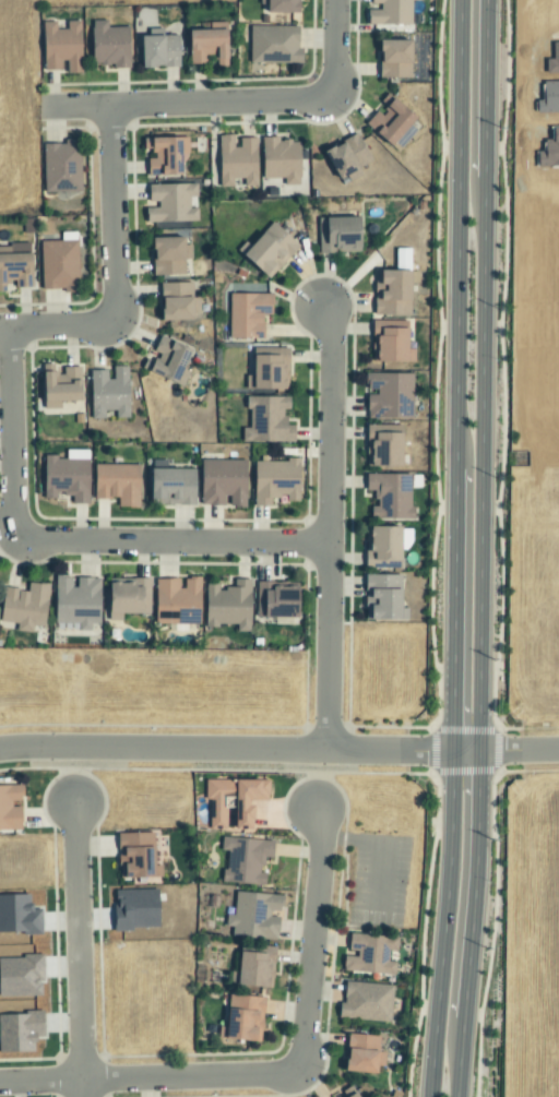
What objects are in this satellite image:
building: (279, 5)
building: (390, 13)
building: (273, 44)
building: (108, 45)
building: (204, 46)
building: (60, 47)
road: (334, 48)
building: (157, 51)
building: (393, 59)
road: (187, 103)
building: (390, 123)
building: (164, 155)
building: (346, 158)
building: (278, 159)
building: (236, 160)
building: (60, 167)
building: (170, 203)
building: (337, 235)
building: (12, 249)
building: (267, 250)
building: (167, 255)
building: (58, 265)
building: (15, 270)
road: (114, 272)
building: (391, 294)
building: (176, 301)
building: (247, 314)
building: (389, 346)
building: (164, 359)
building: (267, 371)
building: (58, 385)
building: (108, 392)
building: (389, 396)
building: (266, 420)
building: (382, 446)
building: (64, 478)
building: (274, 481)
building: (221, 482)
building: (115, 484)
building: (170, 487)
building: (389, 496)
road: (330, 527)
road: (67, 541)
building: (384, 544)
road: (454, 548)
road: (480, 548)
building: (124, 598)
building: (382, 598)
building: (275, 600)
building: (75, 601)
building: (175, 601)
building: (227, 606)
building: (23, 607)
road: (233, 749)
road: (512, 751)
road: (73, 774)
road: (319, 780)
building: (231, 801)
building: (10, 807)
building: (135, 855)
building: (243, 860)
building: (253, 916)
road: (79, 947)
building: (368, 954)
building: (253, 966)
building: (365, 1001)
building: (241, 1018)
road: (305, 1050)
building: (361, 1053)
road: (40, 1081)
building: (347, 1092)

